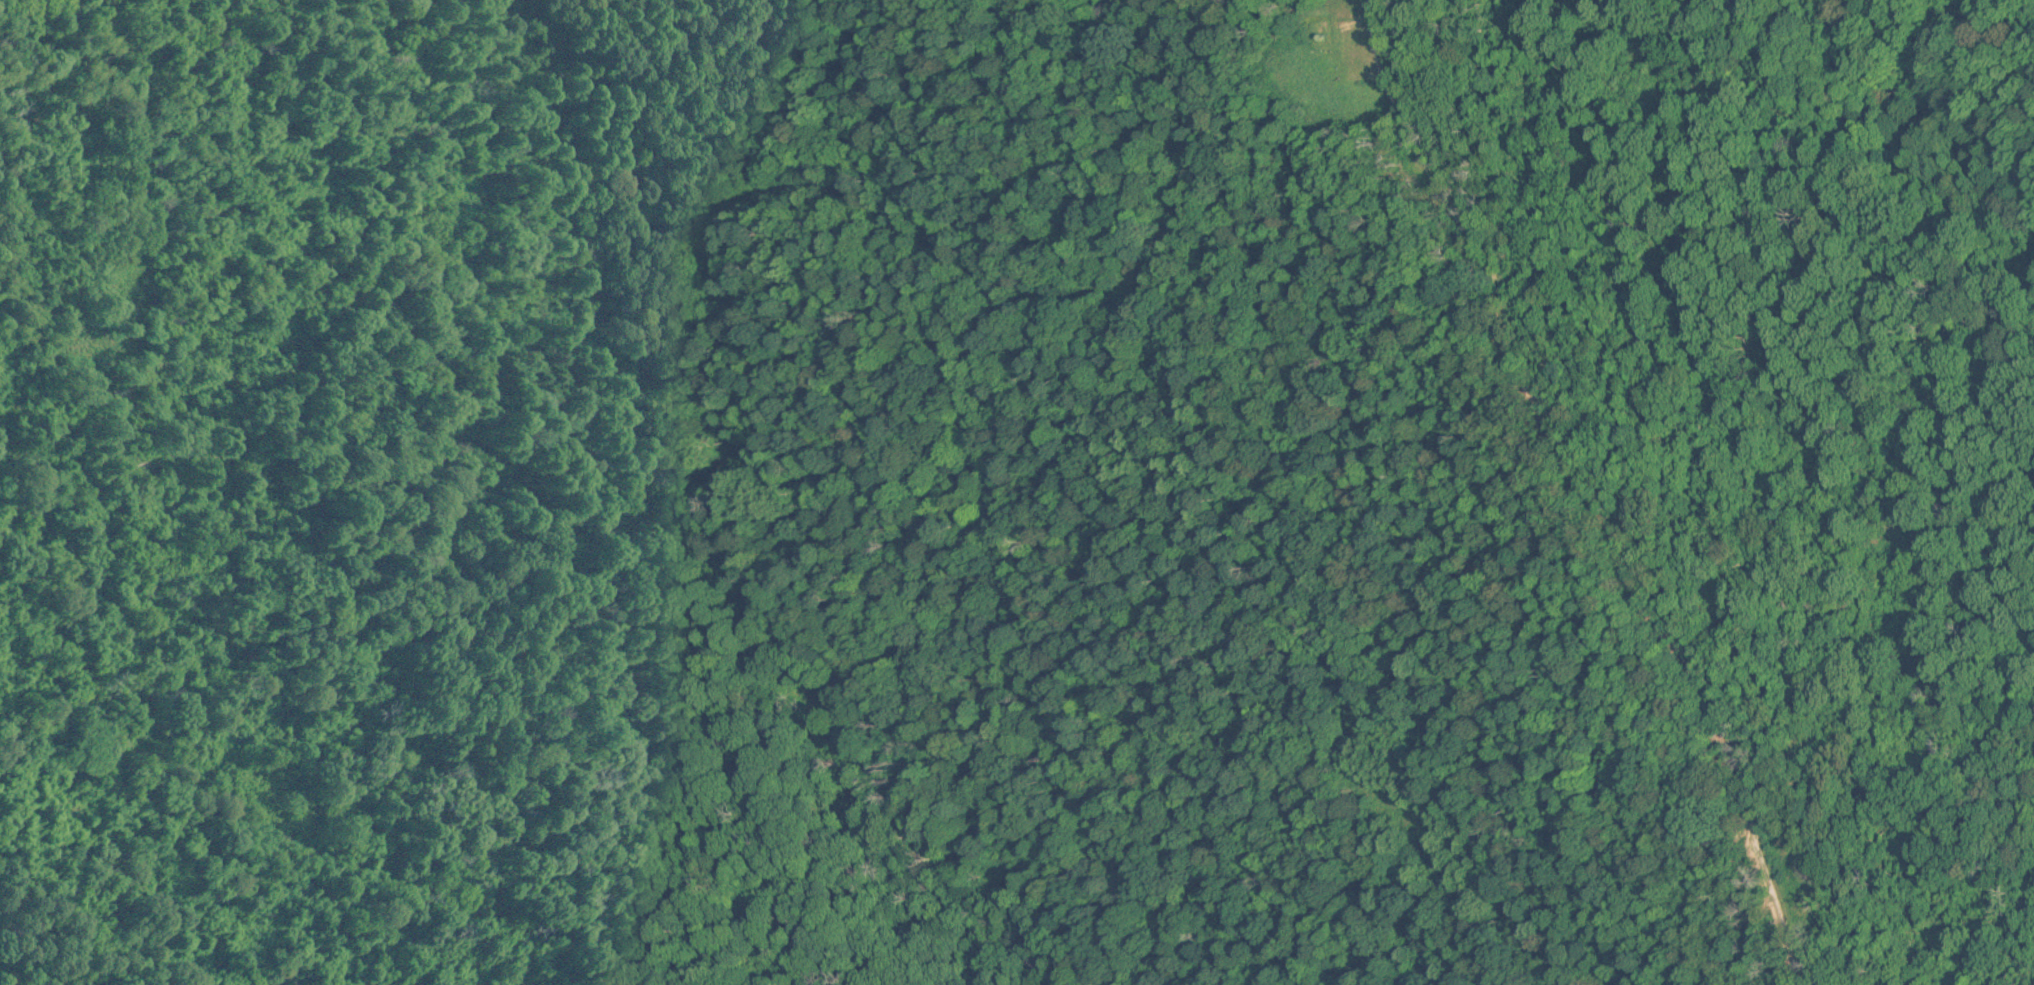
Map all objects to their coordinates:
road: (1051, 292)
road: (1585, 493)

